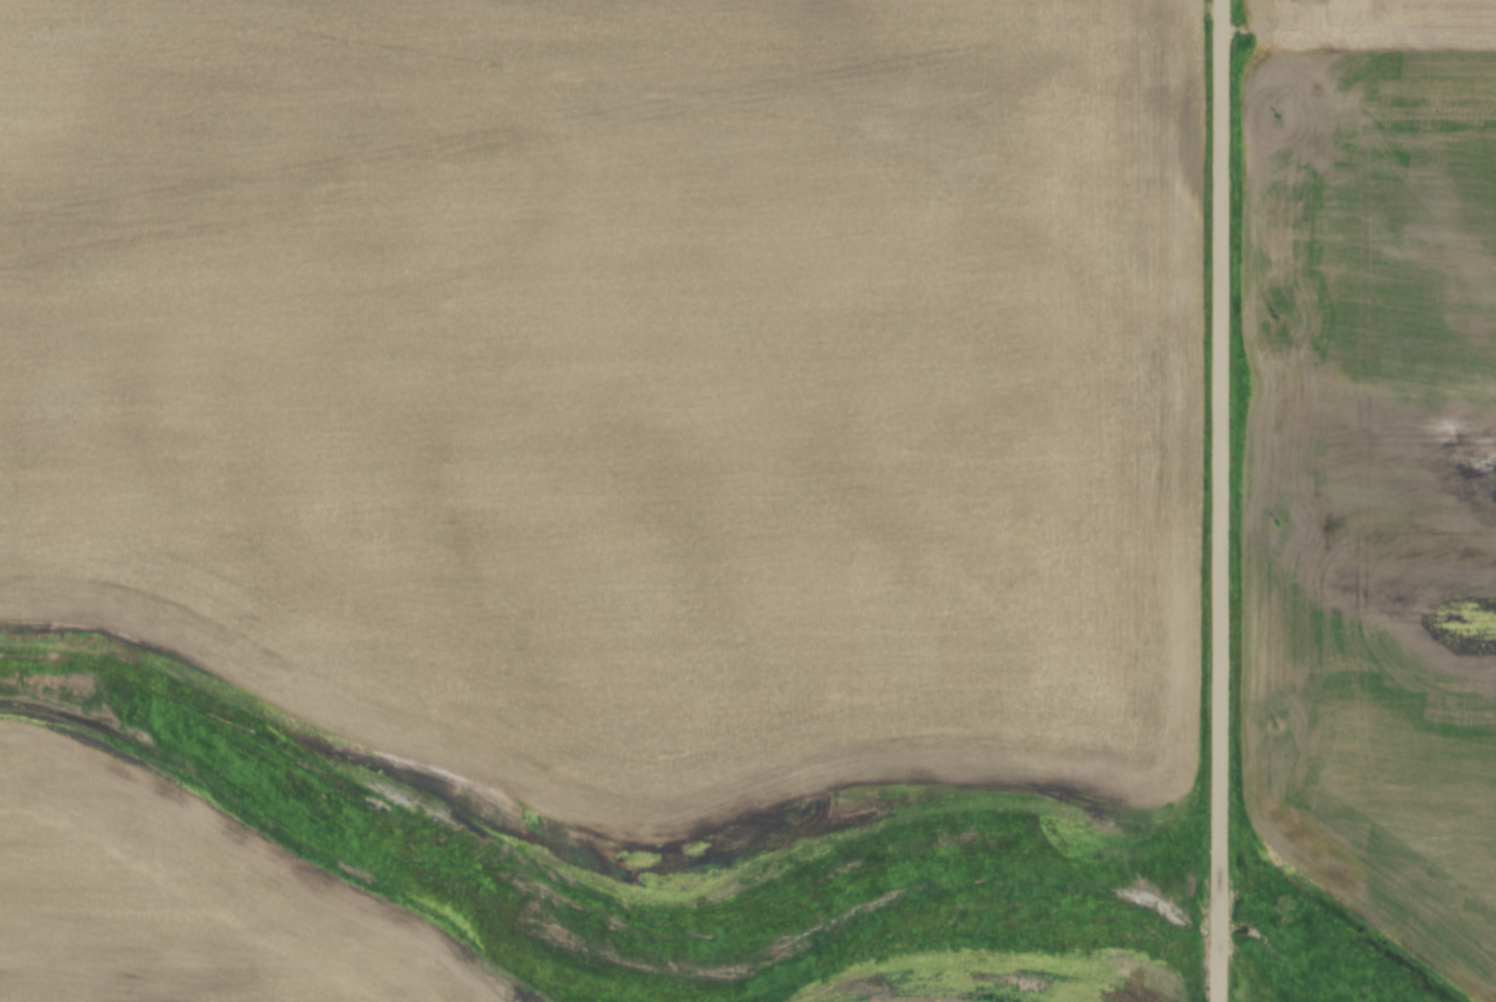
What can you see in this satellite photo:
road: (1224, 500)

